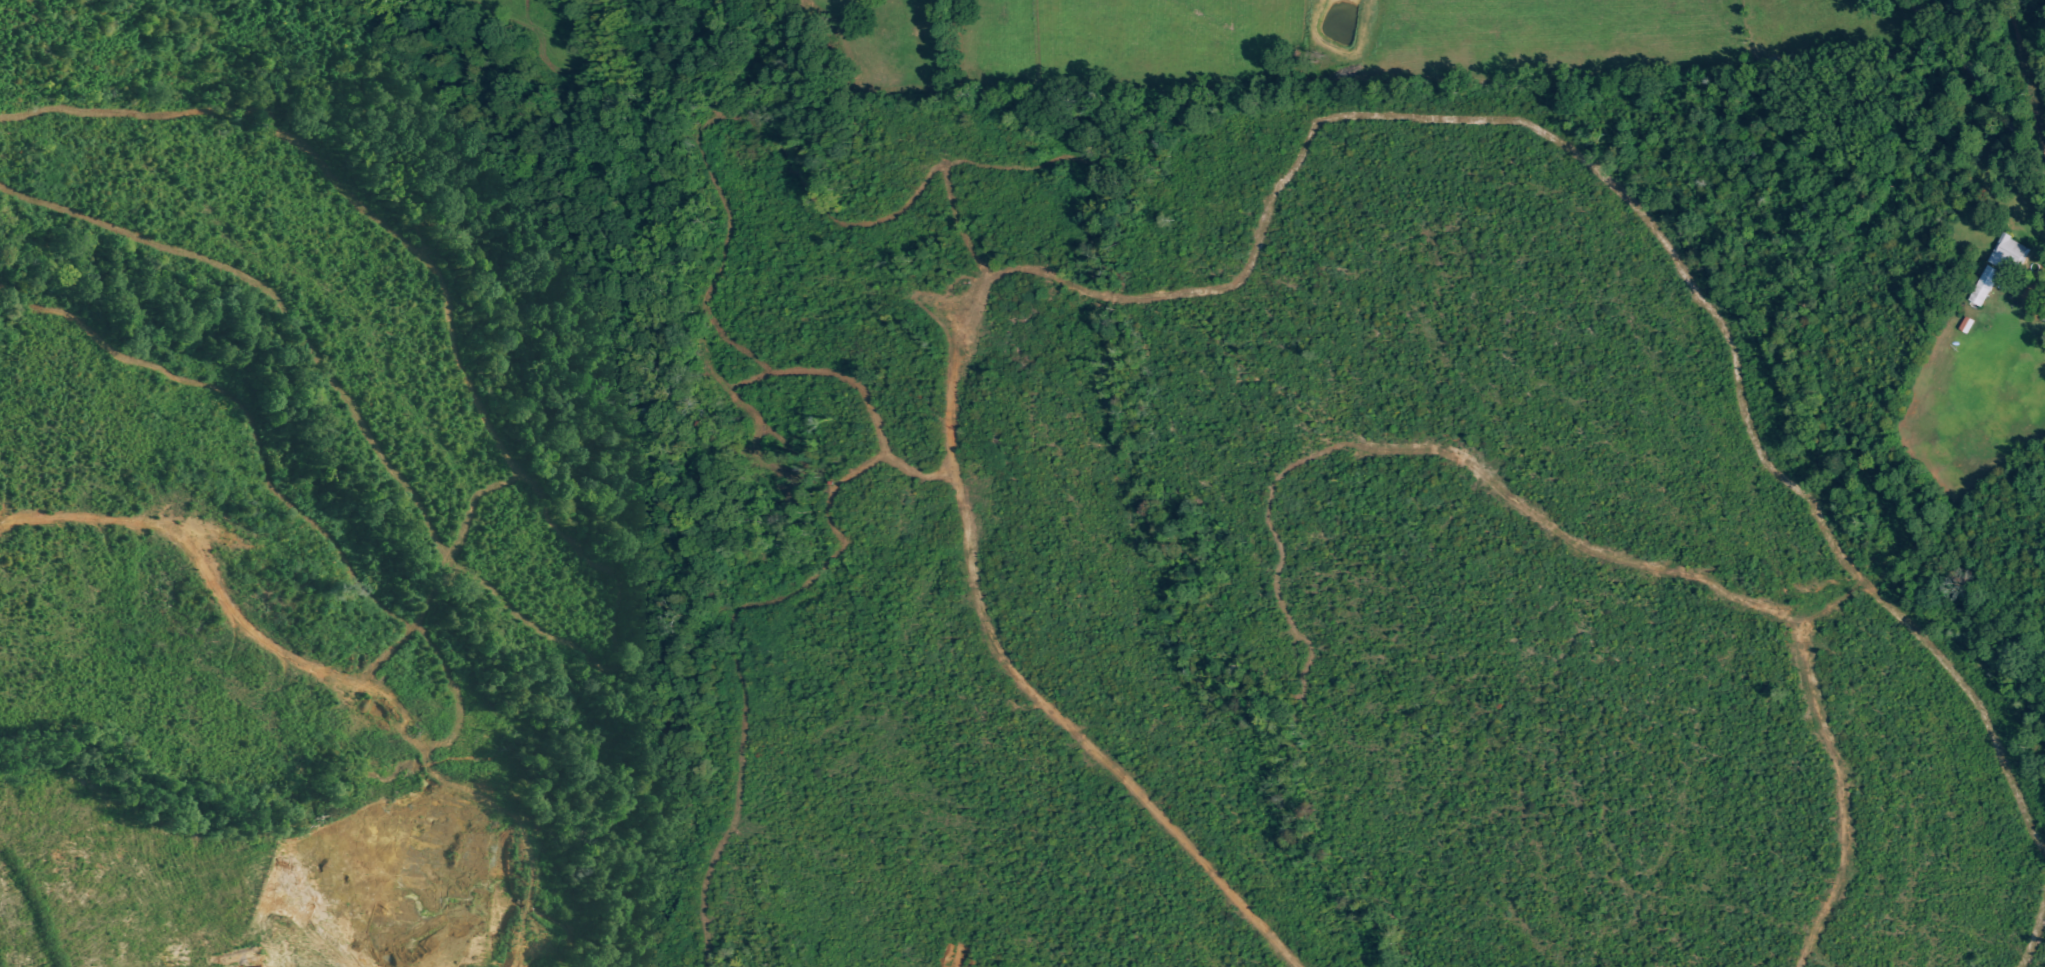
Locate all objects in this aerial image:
road: (1978, 98)
building: (2010, 253)
building: (1985, 285)
road: (1189, 869)

